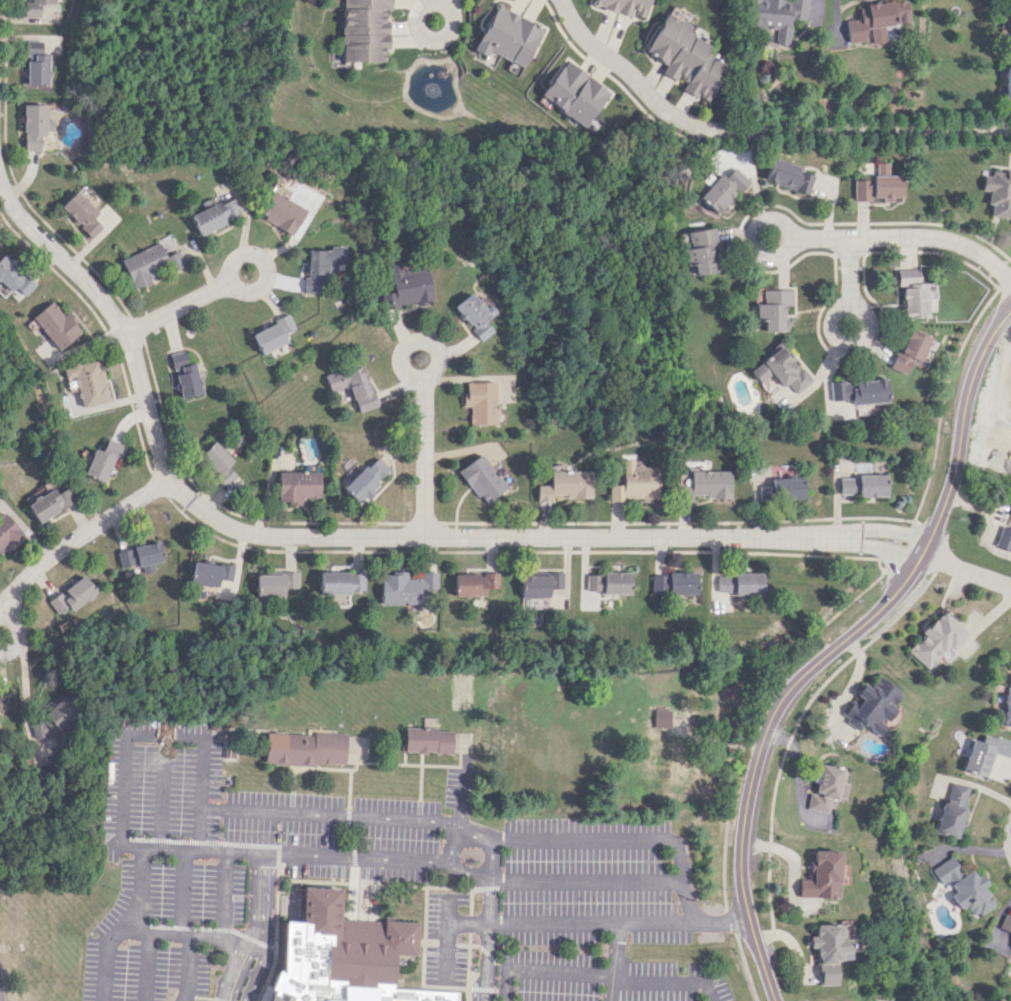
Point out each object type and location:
building: (625, 6)
road: (817, 6)
building: (36, 7)
building: (773, 16)
building: (876, 20)
building: (1009, 27)
building: (363, 30)
building: (508, 36)
road: (428, 38)
building: (685, 56)
building: (489, 59)
building: (37, 64)
building: (1007, 86)
building: (574, 95)
building: (36, 125)
road: (759, 131)
building: (789, 176)
building: (878, 185)
building: (722, 190)
building: (998, 192)
building: (281, 211)
building: (82, 213)
building: (215, 215)
road: (906, 237)
road: (748, 244)
building: (168, 245)
building: (700, 250)
building: (150, 264)
building: (320, 267)
road: (849, 267)
road: (268, 269)
building: (13, 276)
road: (1005, 279)
building: (405, 286)
building: (914, 294)
road: (178, 306)
building: (774, 309)
building: (471, 314)
building: (54, 324)
building: (273, 334)
road: (858, 340)
road: (409, 341)
building: (909, 350)
building: (782, 373)
building: (185, 375)
building: (86, 381)
building: (353, 386)
building: (859, 391)
road: (942, 398)
building: (479, 402)
building: (1007, 412)
road: (423, 456)
building: (101, 460)
building: (219, 462)
building: (367, 478)
building: (480, 479)
building: (634, 483)
building: (710, 483)
building: (564, 485)
building: (862, 485)
building: (299, 486)
building: (784, 489)
building: (48, 503)
building: (7, 531)
road: (79, 536)
road: (362, 536)
building: (1005, 536)
road: (904, 548)
building: (140, 556)
road: (965, 571)
building: (211, 573)
building: (343, 582)
building: (608, 582)
building: (475, 583)
building: (540, 583)
building: (683, 583)
building: (741, 583)
building: (272, 587)
building: (408, 588)
building: (75, 594)
building: (535, 602)
road: (20, 633)
building: (935, 639)
road: (837, 645)
road: (25, 699)
building: (1007, 701)
building: (871, 705)
building: (2, 706)
road: (747, 712)
building: (53, 719)
building: (428, 740)
building: (305, 748)
building: (984, 753)
building: (659, 761)
road: (201, 773)
building: (826, 788)
building: (953, 809)
road: (332, 815)
road: (621, 839)
road: (490, 849)
road: (208, 851)
parking lot: (395, 854)
road: (356, 858)
building: (822, 876)
road: (584, 880)
building: (966, 887)
road: (223, 895)
road: (489, 895)
road: (135, 901)
road: (729, 920)
road: (682, 921)
road: (552, 922)
building: (1006, 924)
road: (257, 929)
road: (444, 929)
road: (155, 932)
road: (189, 935)
building: (1010, 948)
building: (829, 950)
building: (344, 955)
road: (612, 961)
road: (485, 962)
road: (744, 966)
road: (667, 980)
road: (201, 997)
road: (217, 999)

